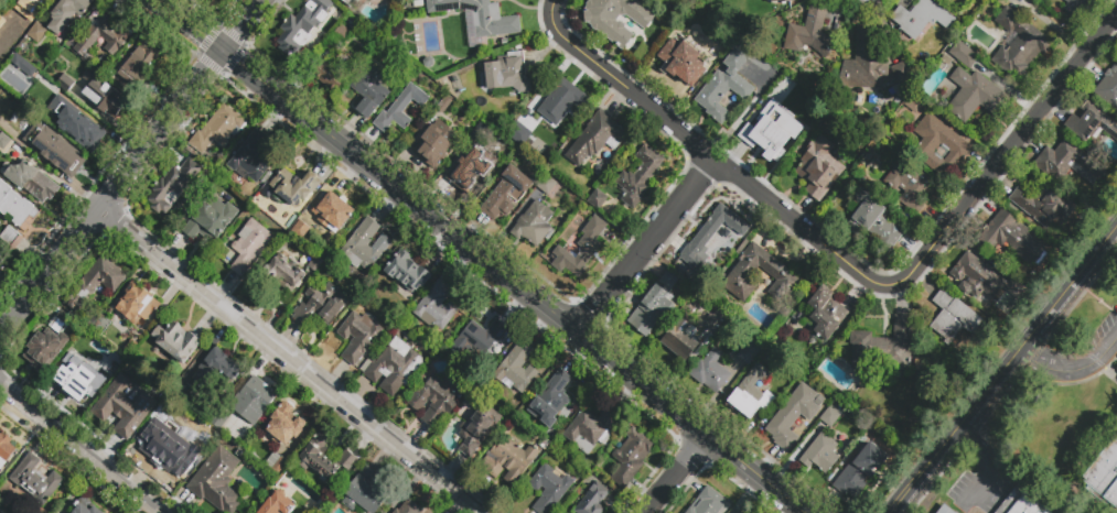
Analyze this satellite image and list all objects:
building: (47, 0)
road: (55, 1)
building: (347, 1)
building: (781, 1)
road: (165, 2)
road: (120, 7)
building: (1073, 7)
building: (67, 13)
building: (480, 15)
building: (920, 18)
building: (614, 19)
building: (30, 25)
building: (301, 26)
building: (340, 35)
building: (809, 35)
building: (101, 36)
building: (1018, 44)
building: (9, 46)
road: (577, 48)
building: (962, 55)
building: (680, 61)
building: (864, 62)
building: (22, 65)
building: (135, 67)
building: (750, 67)
building: (506, 74)
building: (329, 78)
building: (901, 80)
building: (784, 84)
building: (64, 85)
building: (723, 86)
building: (33, 87)
road: (297, 87)
building: (1108, 87)
building: (369, 88)
building: (975, 96)
building: (104, 97)
building: (561, 101)
building: (913, 103)
building: (44, 109)
building: (400, 109)
building: (10, 116)
road: (277, 117)
road: (670, 123)
building: (1089, 123)
building: (75, 125)
building: (218, 130)
building: (437, 135)
building: (519, 137)
building: (767, 137)
building: (595, 139)
road: (1018, 139)
road: (364, 141)
road: (335, 142)
building: (4, 143)
building: (939, 145)
building: (61, 155)
building: (250, 157)
road: (397, 163)
building: (1071, 163)
building: (471, 164)
road: (131, 165)
building: (818, 166)
building: (640, 176)
building: (33, 181)
building: (547, 185)
building: (172, 186)
road: (330, 186)
building: (911, 187)
building: (289, 190)
building: (506, 192)
road: (440, 194)
building: (598, 199)
road: (769, 201)
road: (388, 205)
building: (14, 206)
building: (1041, 206)
building: (333, 212)
building: (210, 220)
road: (511, 225)
building: (533, 225)
building: (874, 225)
building: (300, 230)
road: (474, 230)
building: (11, 238)
building: (709, 238)
building: (1011, 238)
road: (646, 243)
building: (249, 247)
building: (365, 247)
building: (590, 248)
road: (439, 249)
road: (483, 256)
road: (461, 262)
building: (0, 271)
building: (284, 272)
building: (407, 272)
building: (743, 272)
building: (0, 273)
building: (980, 277)
road: (870, 280)
building: (95, 286)
building: (320, 304)
road: (516, 304)
building: (133, 305)
building: (437, 305)
building: (654, 305)
building: (826, 313)
building: (954, 318)
building: (716, 321)
road: (541, 324)
building: (358, 336)
building: (479, 340)
building: (681, 341)
building: (175, 342)
building: (49, 345)
building: (883, 348)
road: (576, 351)
building: (748, 351)
road: (1019, 353)
road: (287, 361)
building: (516, 367)
road: (687, 367)
building: (394, 368)
building: (216, 370)
building: (710, 372)
road: (1073, 372)
building: (77, 376)
road: (1012, 378)
building: (107, 379)
building: (783, 383)
building: (751, 390)
building: (180, 392)
road: (627, 392)
road: (719, 394)
building: (437, 400)
building: (550, 400)
building: (254, 401)
building: (792, 416)
building: (829, 417)
building: (218, 418)
building: (281, 426)
building: (476, 427)
building: (589, 429)
road: (744, 434)
building: (175, 441)
building: (3, 446)
road: (83, 448)
building: (820, 454)
road: (797, 455)
building: (324, 457)
building: (630, 458)
building: (509, 461)
road: (770, 462)
road: (987, 463)
building: (276, 465)
building: (858, 471)
road: (676, 472)
building: (1105, 474)
building: (33, 480)
building: (216, 481)
building: (549, 487)
building: (364, 493)
road: (748, 493)
road: (906, 495)
building: (593, 500)
building: (707, 503)
road: (828, 503)
building: (277, 504)
building: (1028, 505)
building: (86, 506)
building: (410, 507)
road: (791, 507)
building: (945, 509)
building: (0, 512)
building: (733, 512)
building: (739, 512)

